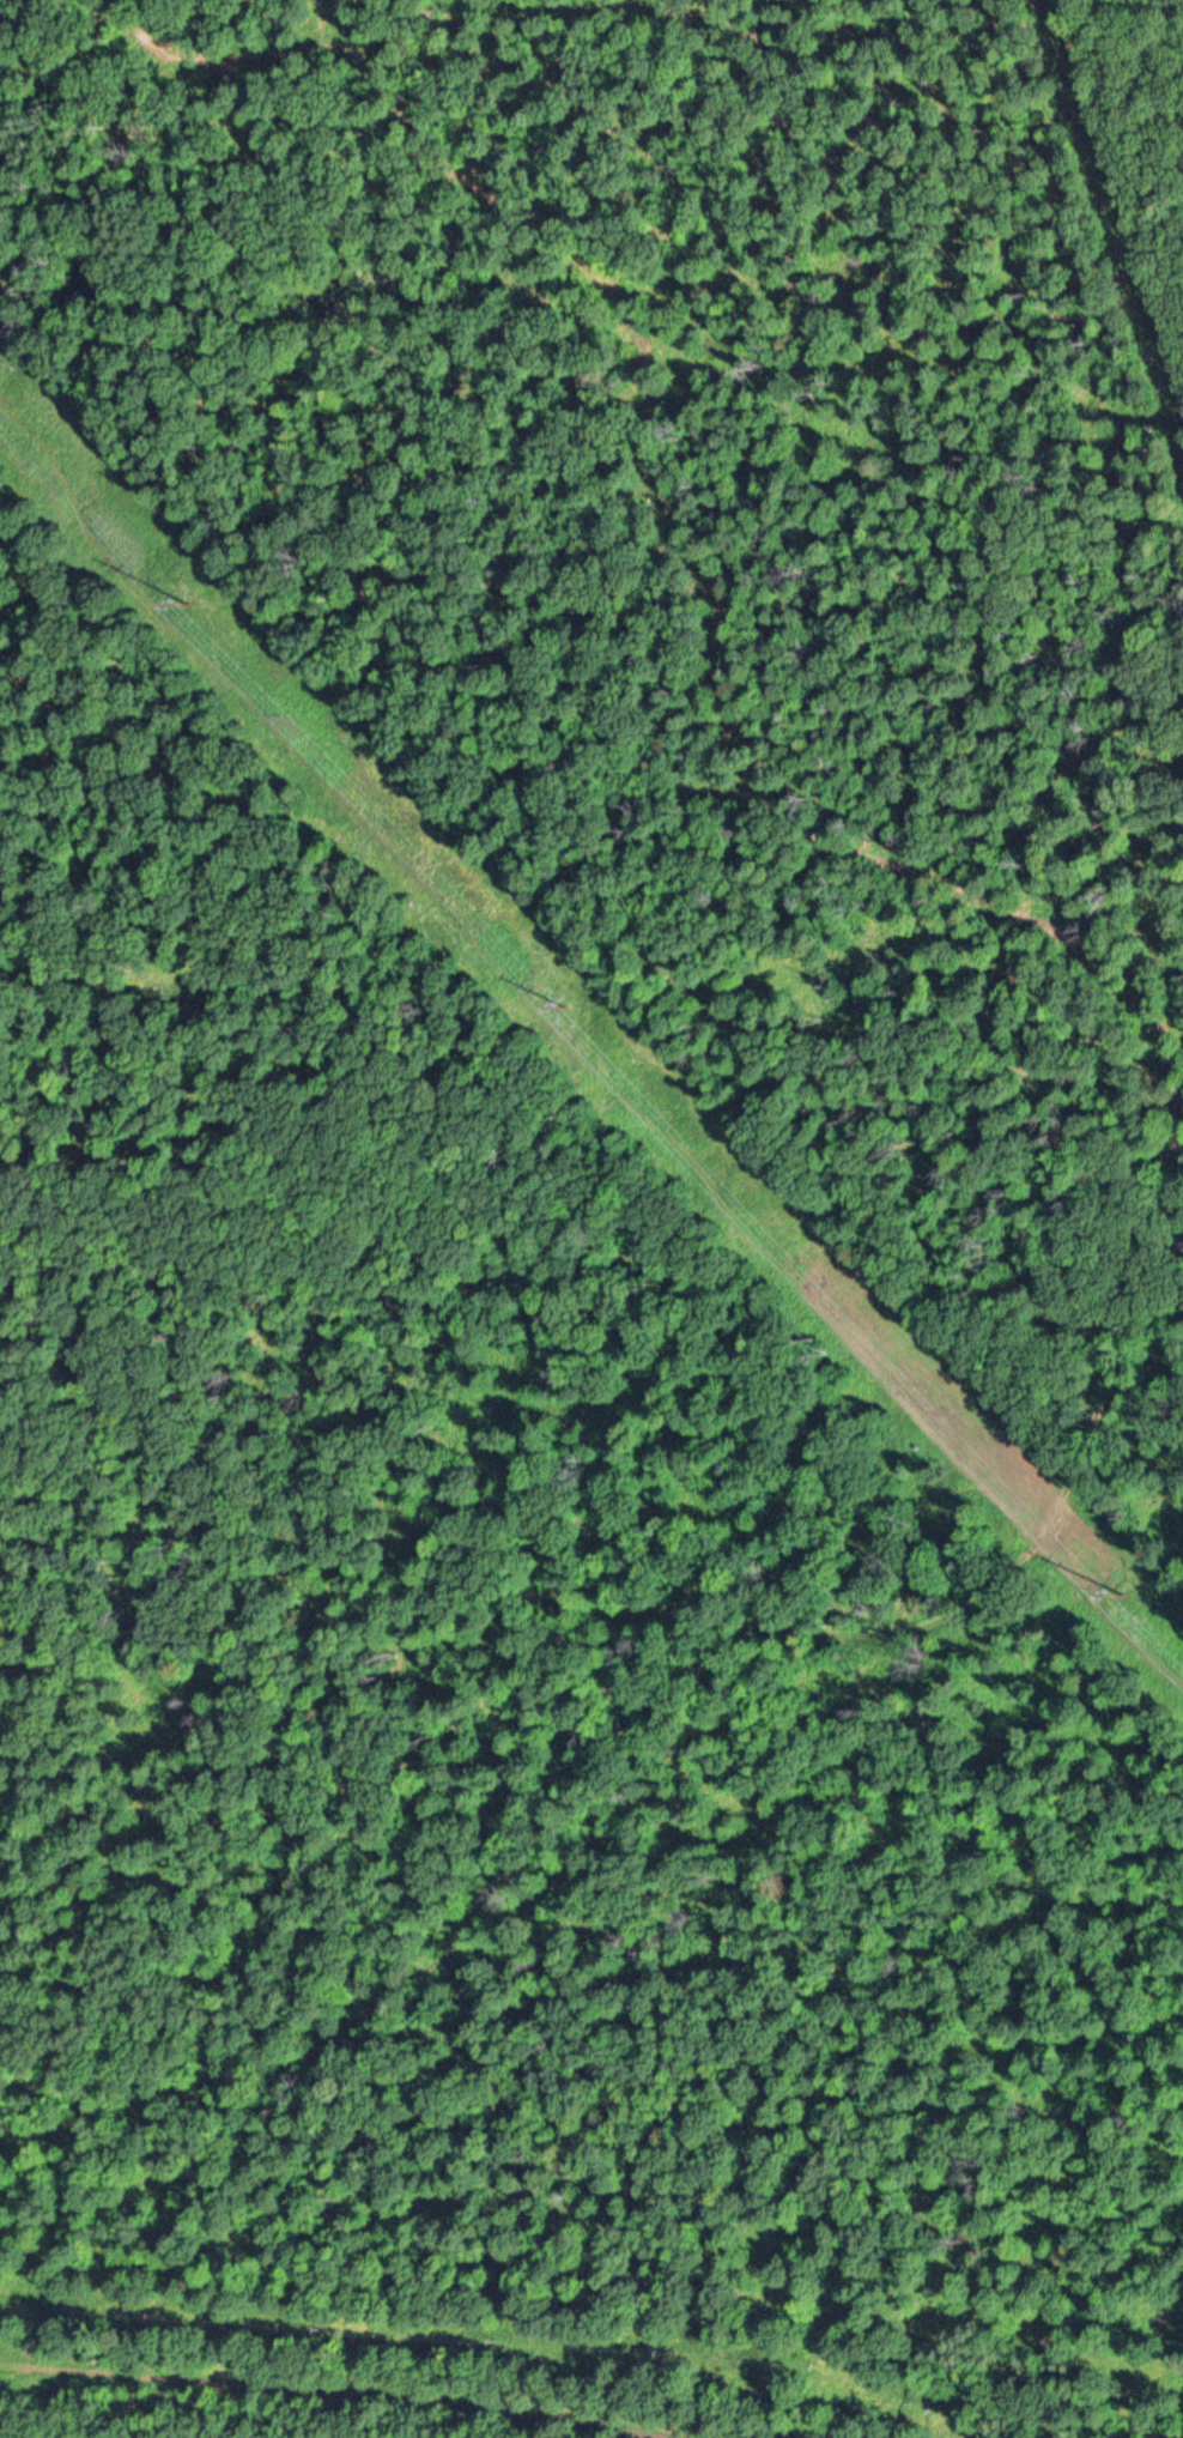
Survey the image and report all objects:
power tower: (190, 597)
power tower: (565, 990)
power tower: (1117, 1580)

